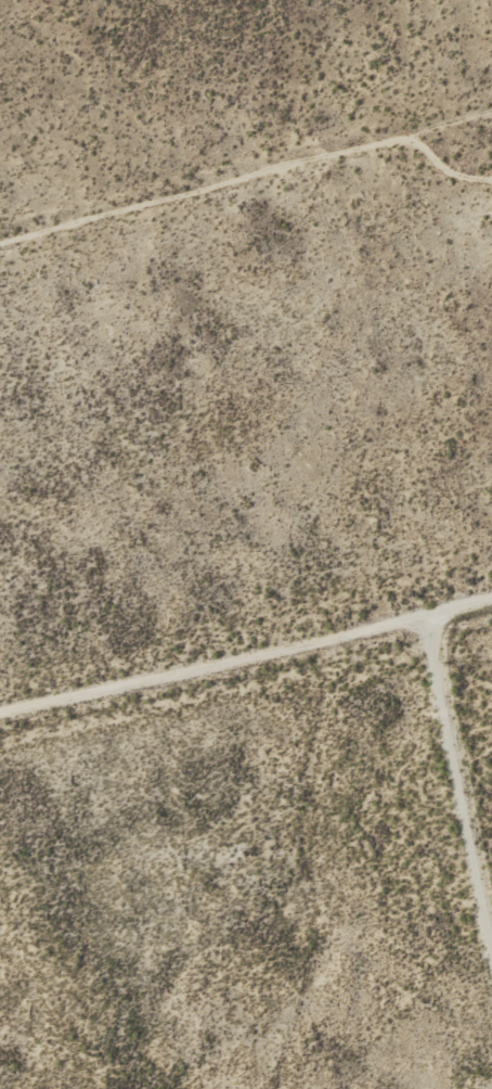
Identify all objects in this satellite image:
road: (246, 655)

